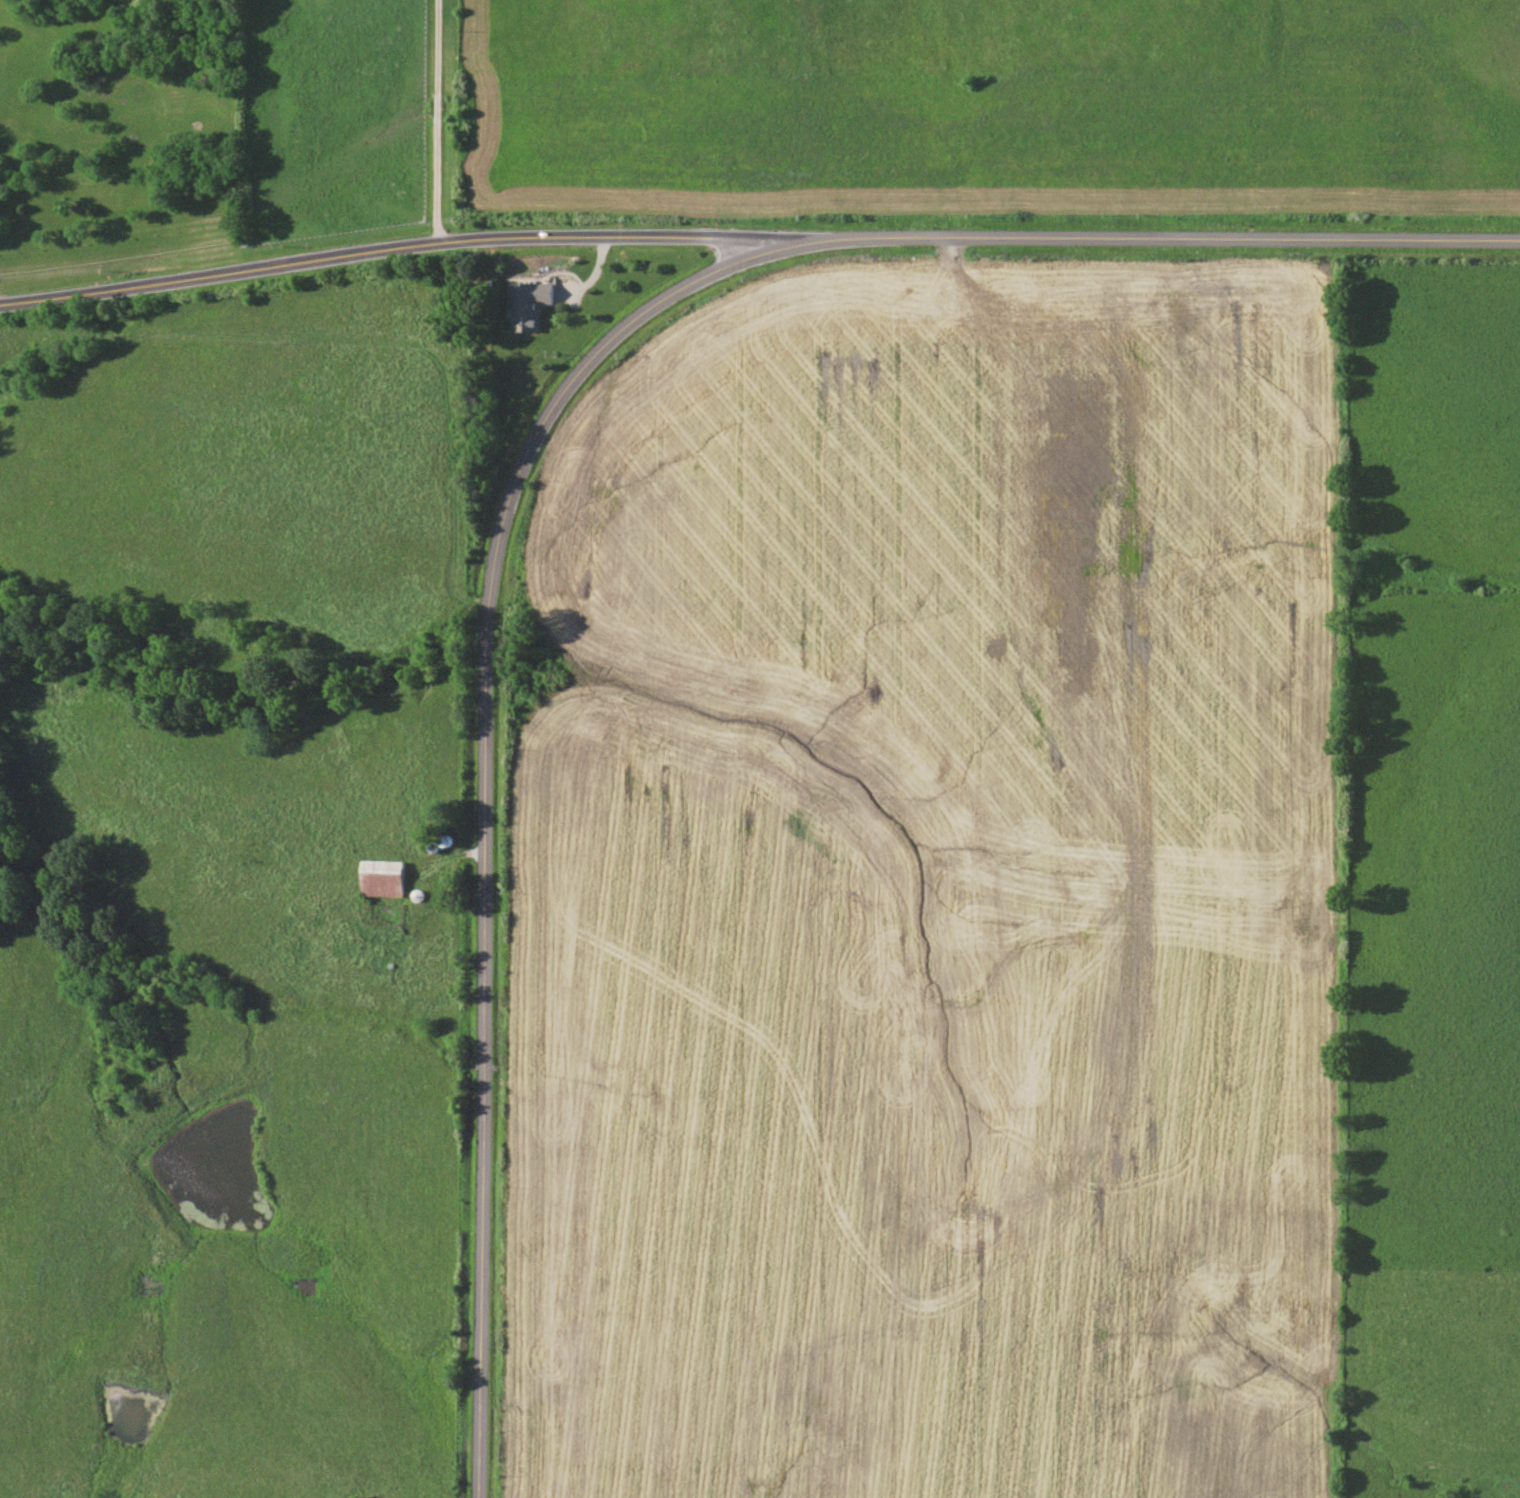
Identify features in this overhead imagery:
road: (438, 121)
road: (1159, 238)
road: (398, 247)
park: (469, 301)
building: (530, 304)
road: (488, 797)
building: (386, 878)

